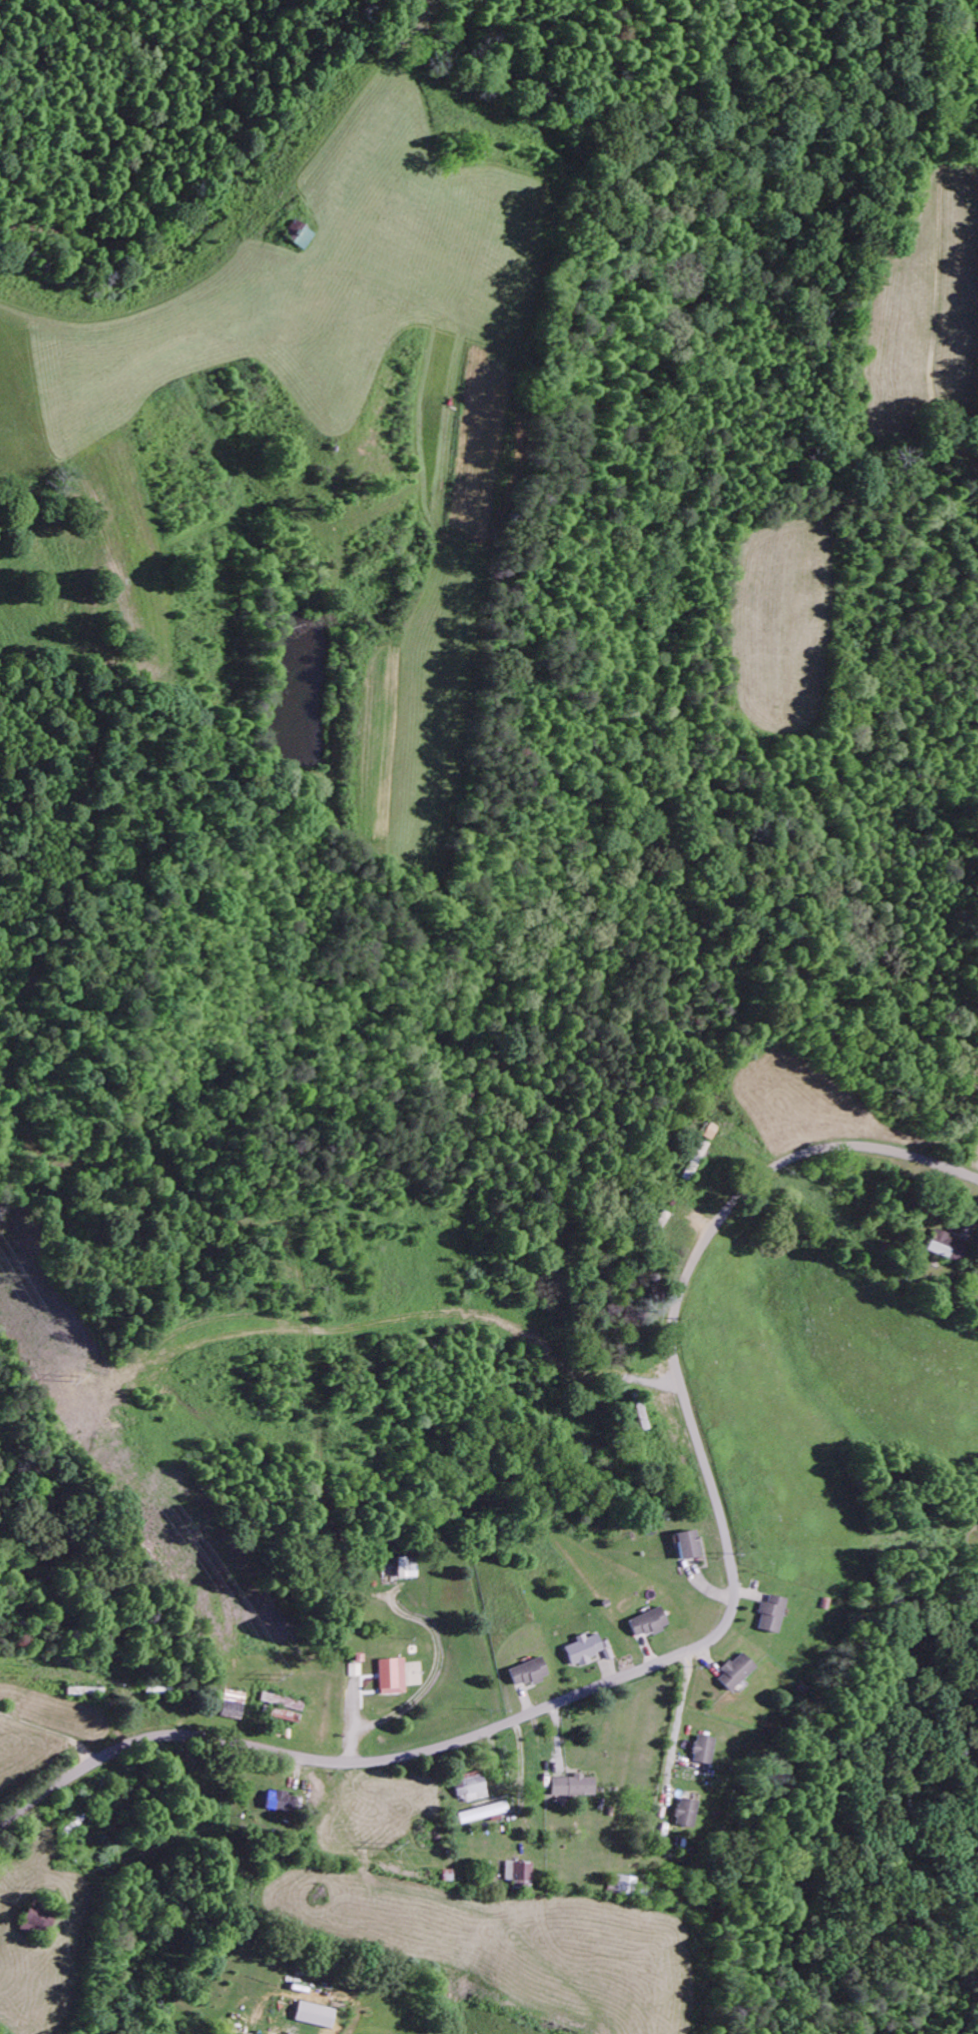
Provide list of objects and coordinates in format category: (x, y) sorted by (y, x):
road: (353, 122)
building: (297, 237)
road: (893, 274)
road: (933, 972)
building: (946, 1249)
building: (687, 1547)
building: (406, 1571)
building: (770, 1617)
building: (648, 1625)
road: (699, 1644)
building: (583, 1651)
building: (352, 1672)
building: (735, 1674)
building: (527, 1675)
building: (390, 1679)
building: (232, 1709)
building: (282, 1709)
building: (701, 1752)
building: (572, 1788)
building: (470, 1789)
building: (280, 1804)
building: (481, 1815)
building: (684, 1815)
building: (518, 1876)
building: (625, 1888)
building: (315, 2017)

